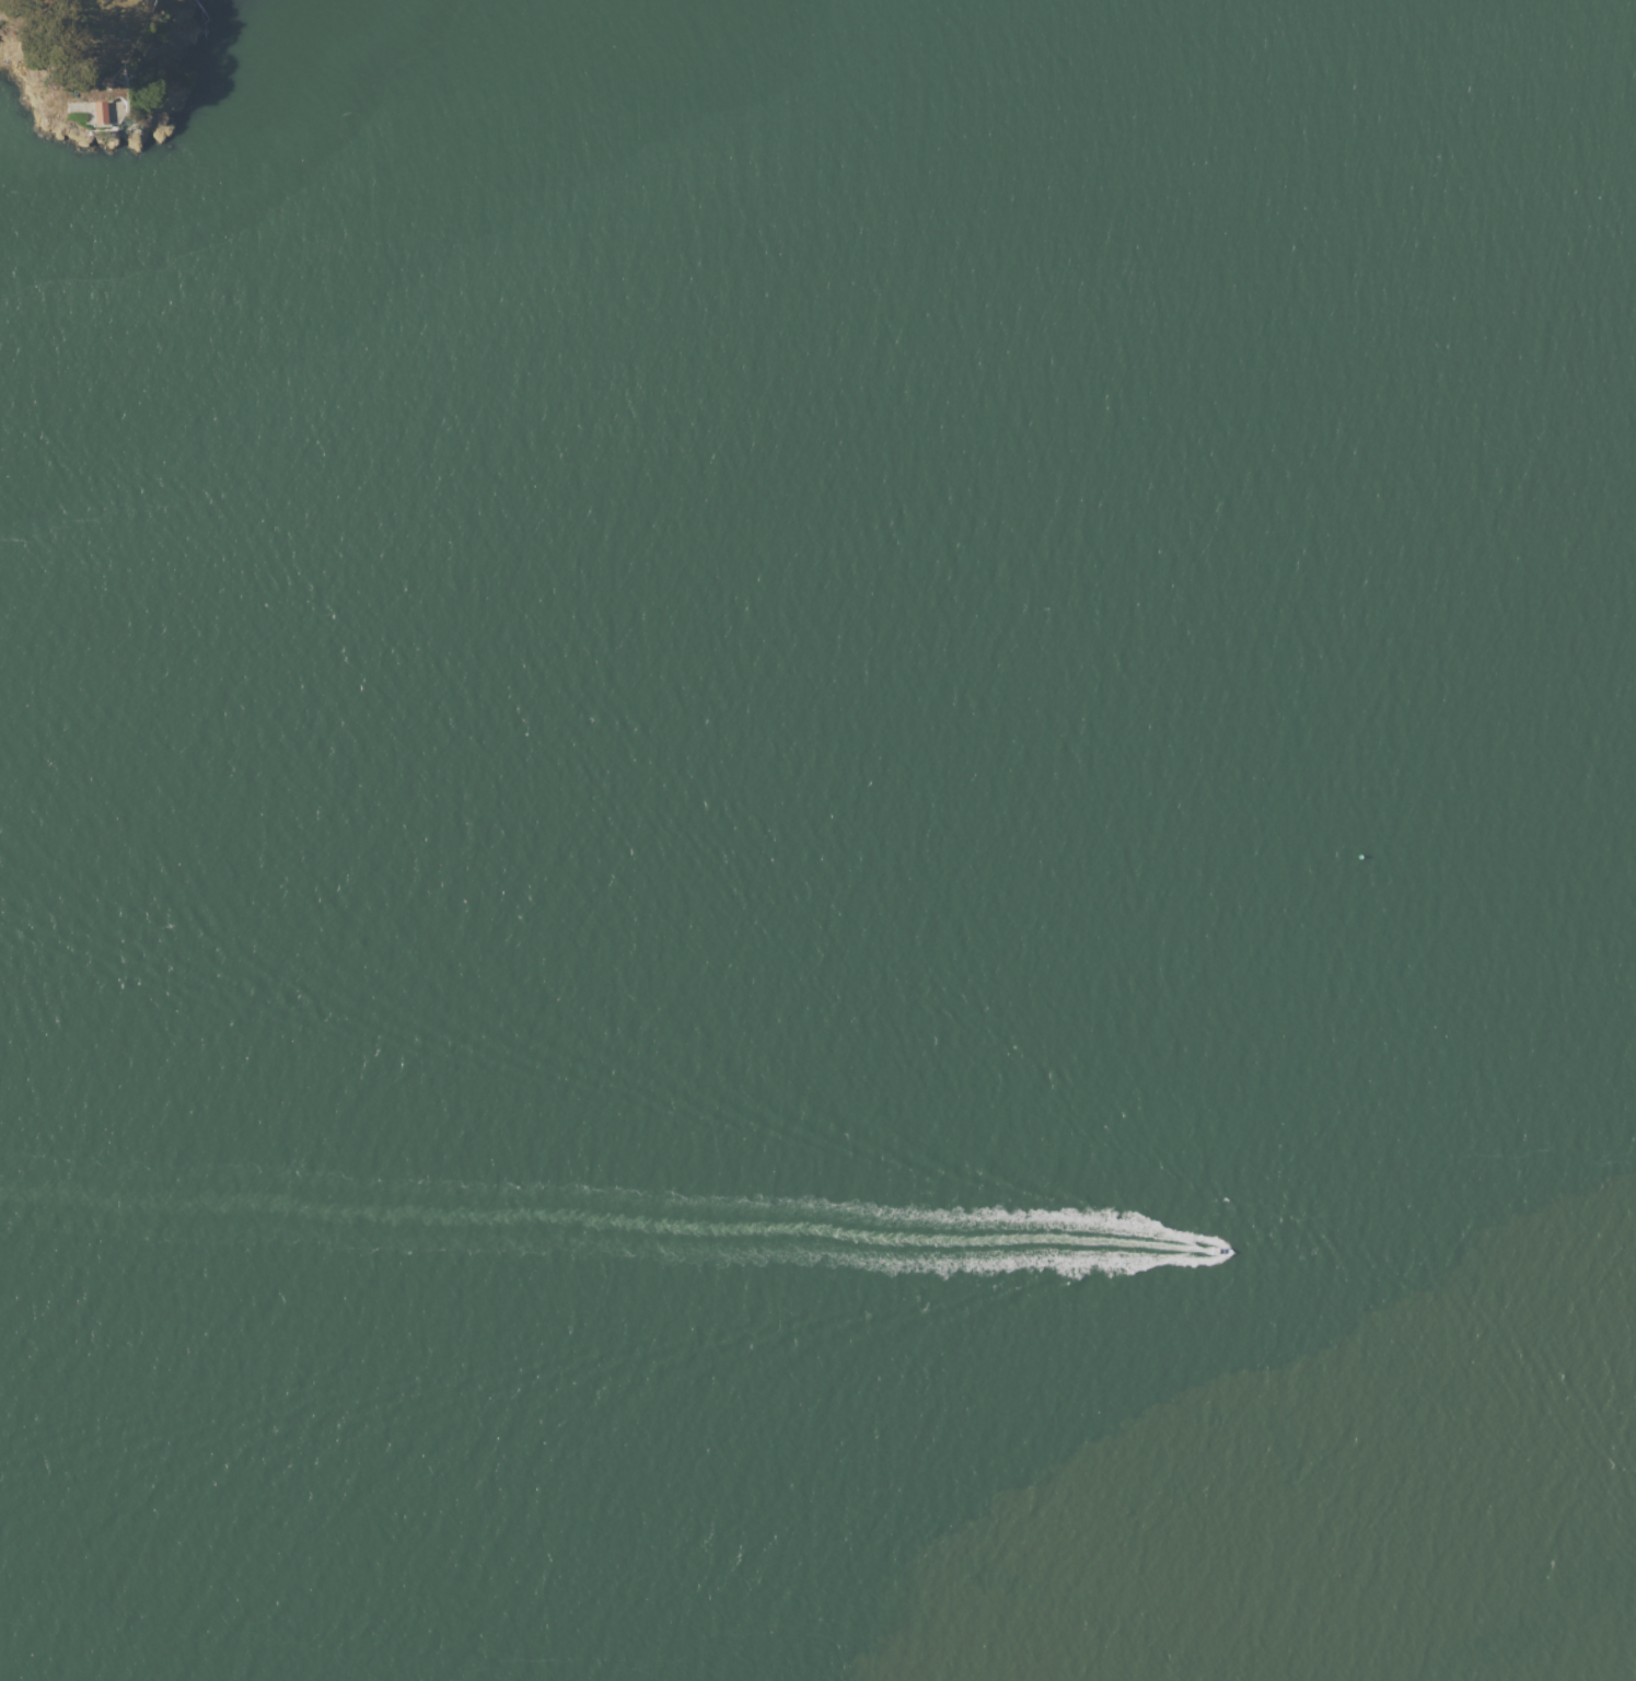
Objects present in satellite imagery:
flagpole: (117, 34)
road: (108, 71)
road: (120, 72)
building: (103, 77)
building: (85, 78)
building: (97, 107)
road: (118, 112)
road: (92, 117)
road: (97, 119)

